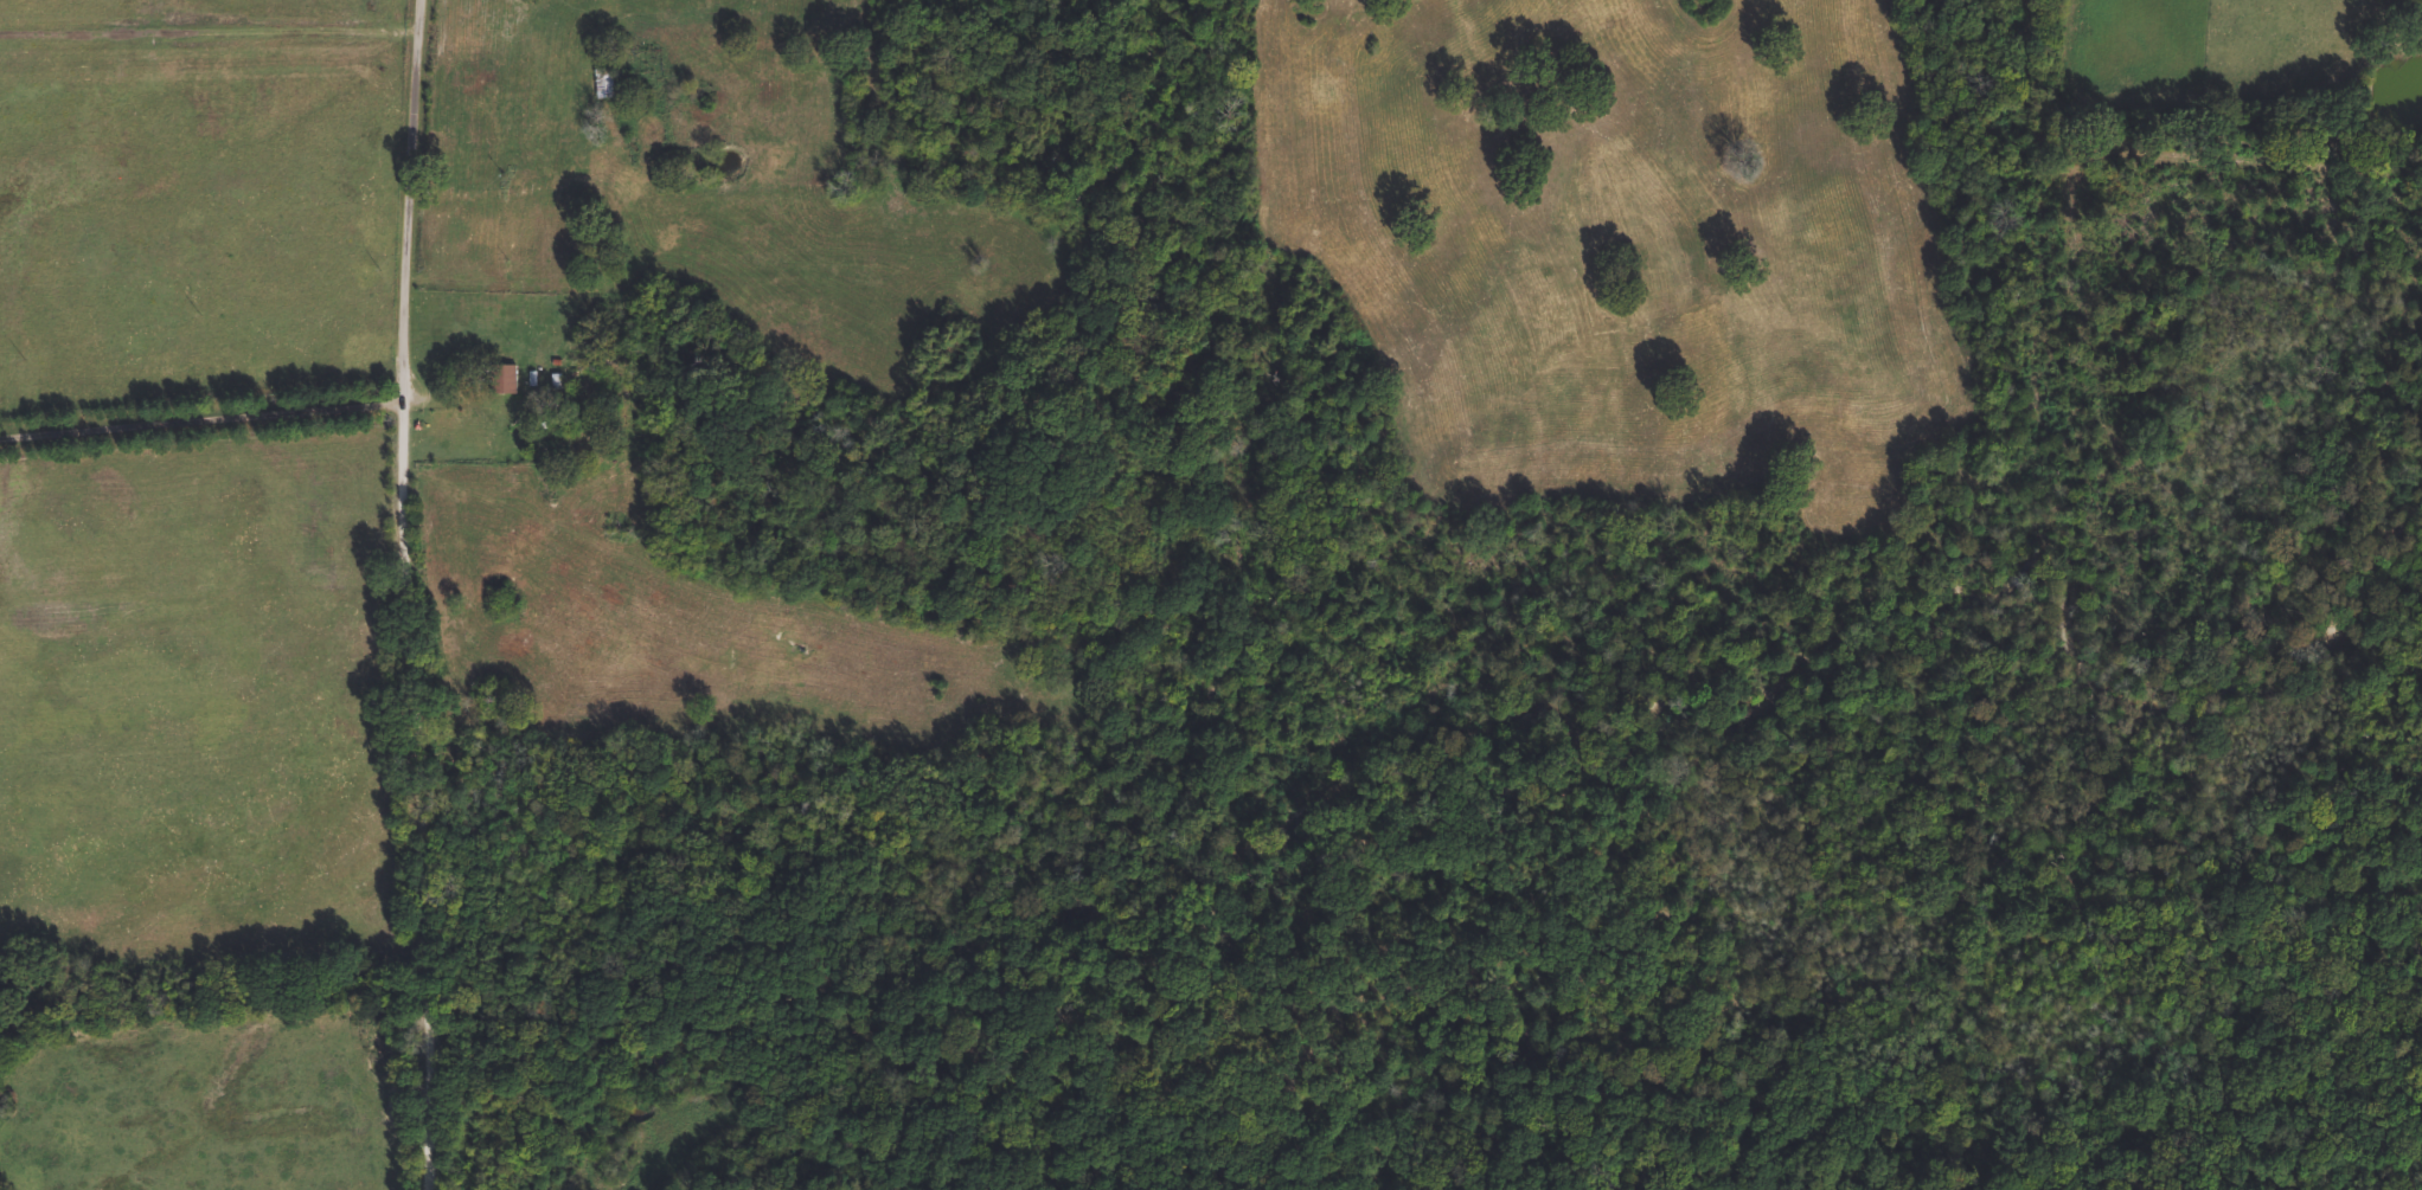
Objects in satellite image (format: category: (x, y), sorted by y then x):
road: (214, 34)
building: (505, 380)
road: (210, 419)
road: (429, 594)

